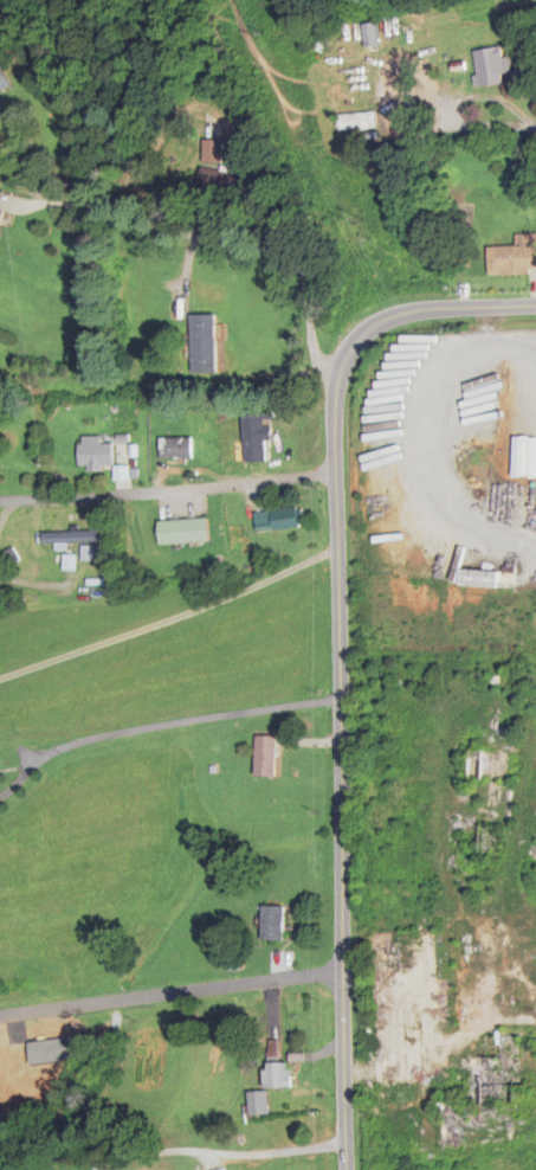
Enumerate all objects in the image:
building: (487, 69)
building: (2, 84)
building: (356, 123)
road: (493, 129)
building: (212, 153)
building: (219, 181)
building: (0, 200)
road: (219, 234)
building: (512, 259)
building: (205, 351)
building: (256, 439)
building: (175, 450)
building: (93, 455)
road: (167, 490)
building: (278, 521)
building: (182, 533)
building: (70, 539)
building: (479, 580)
road: (169, 619)
road: (338, 658)
road: (160, 729)
building: (266, 758)
building: (486, 767)
building: (489, 846)
building: (271, 924)
building: (534, 976)
road: (168, 994)
building: (149, 1042)
building: (277, 1075)
building: (485, 1093)
building: (257, 1104)
road: (220, 1155)

